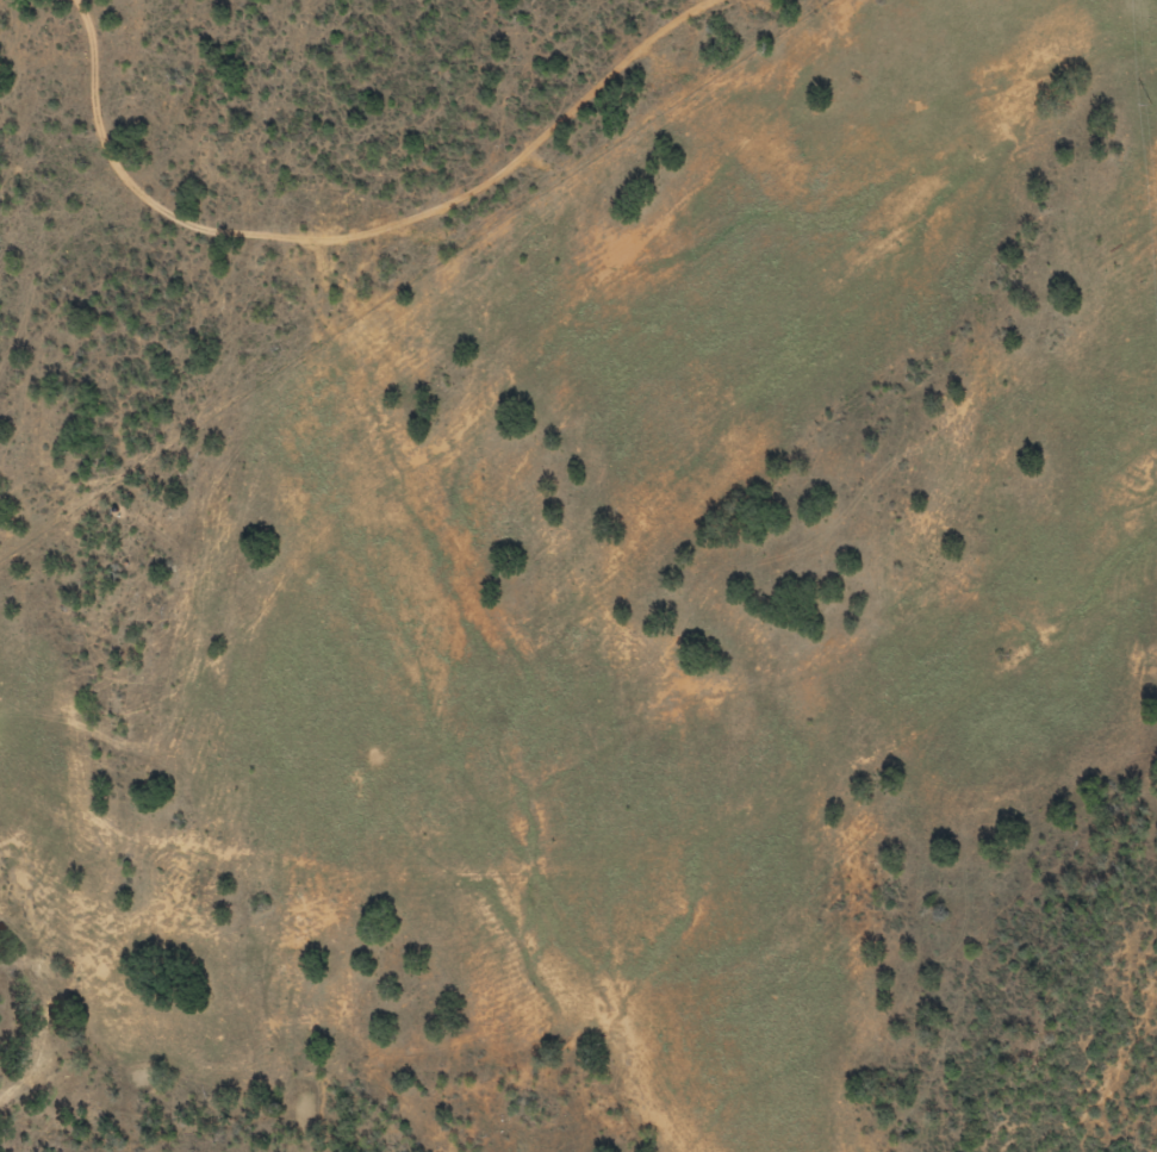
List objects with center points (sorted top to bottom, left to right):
road: (391, 270)

